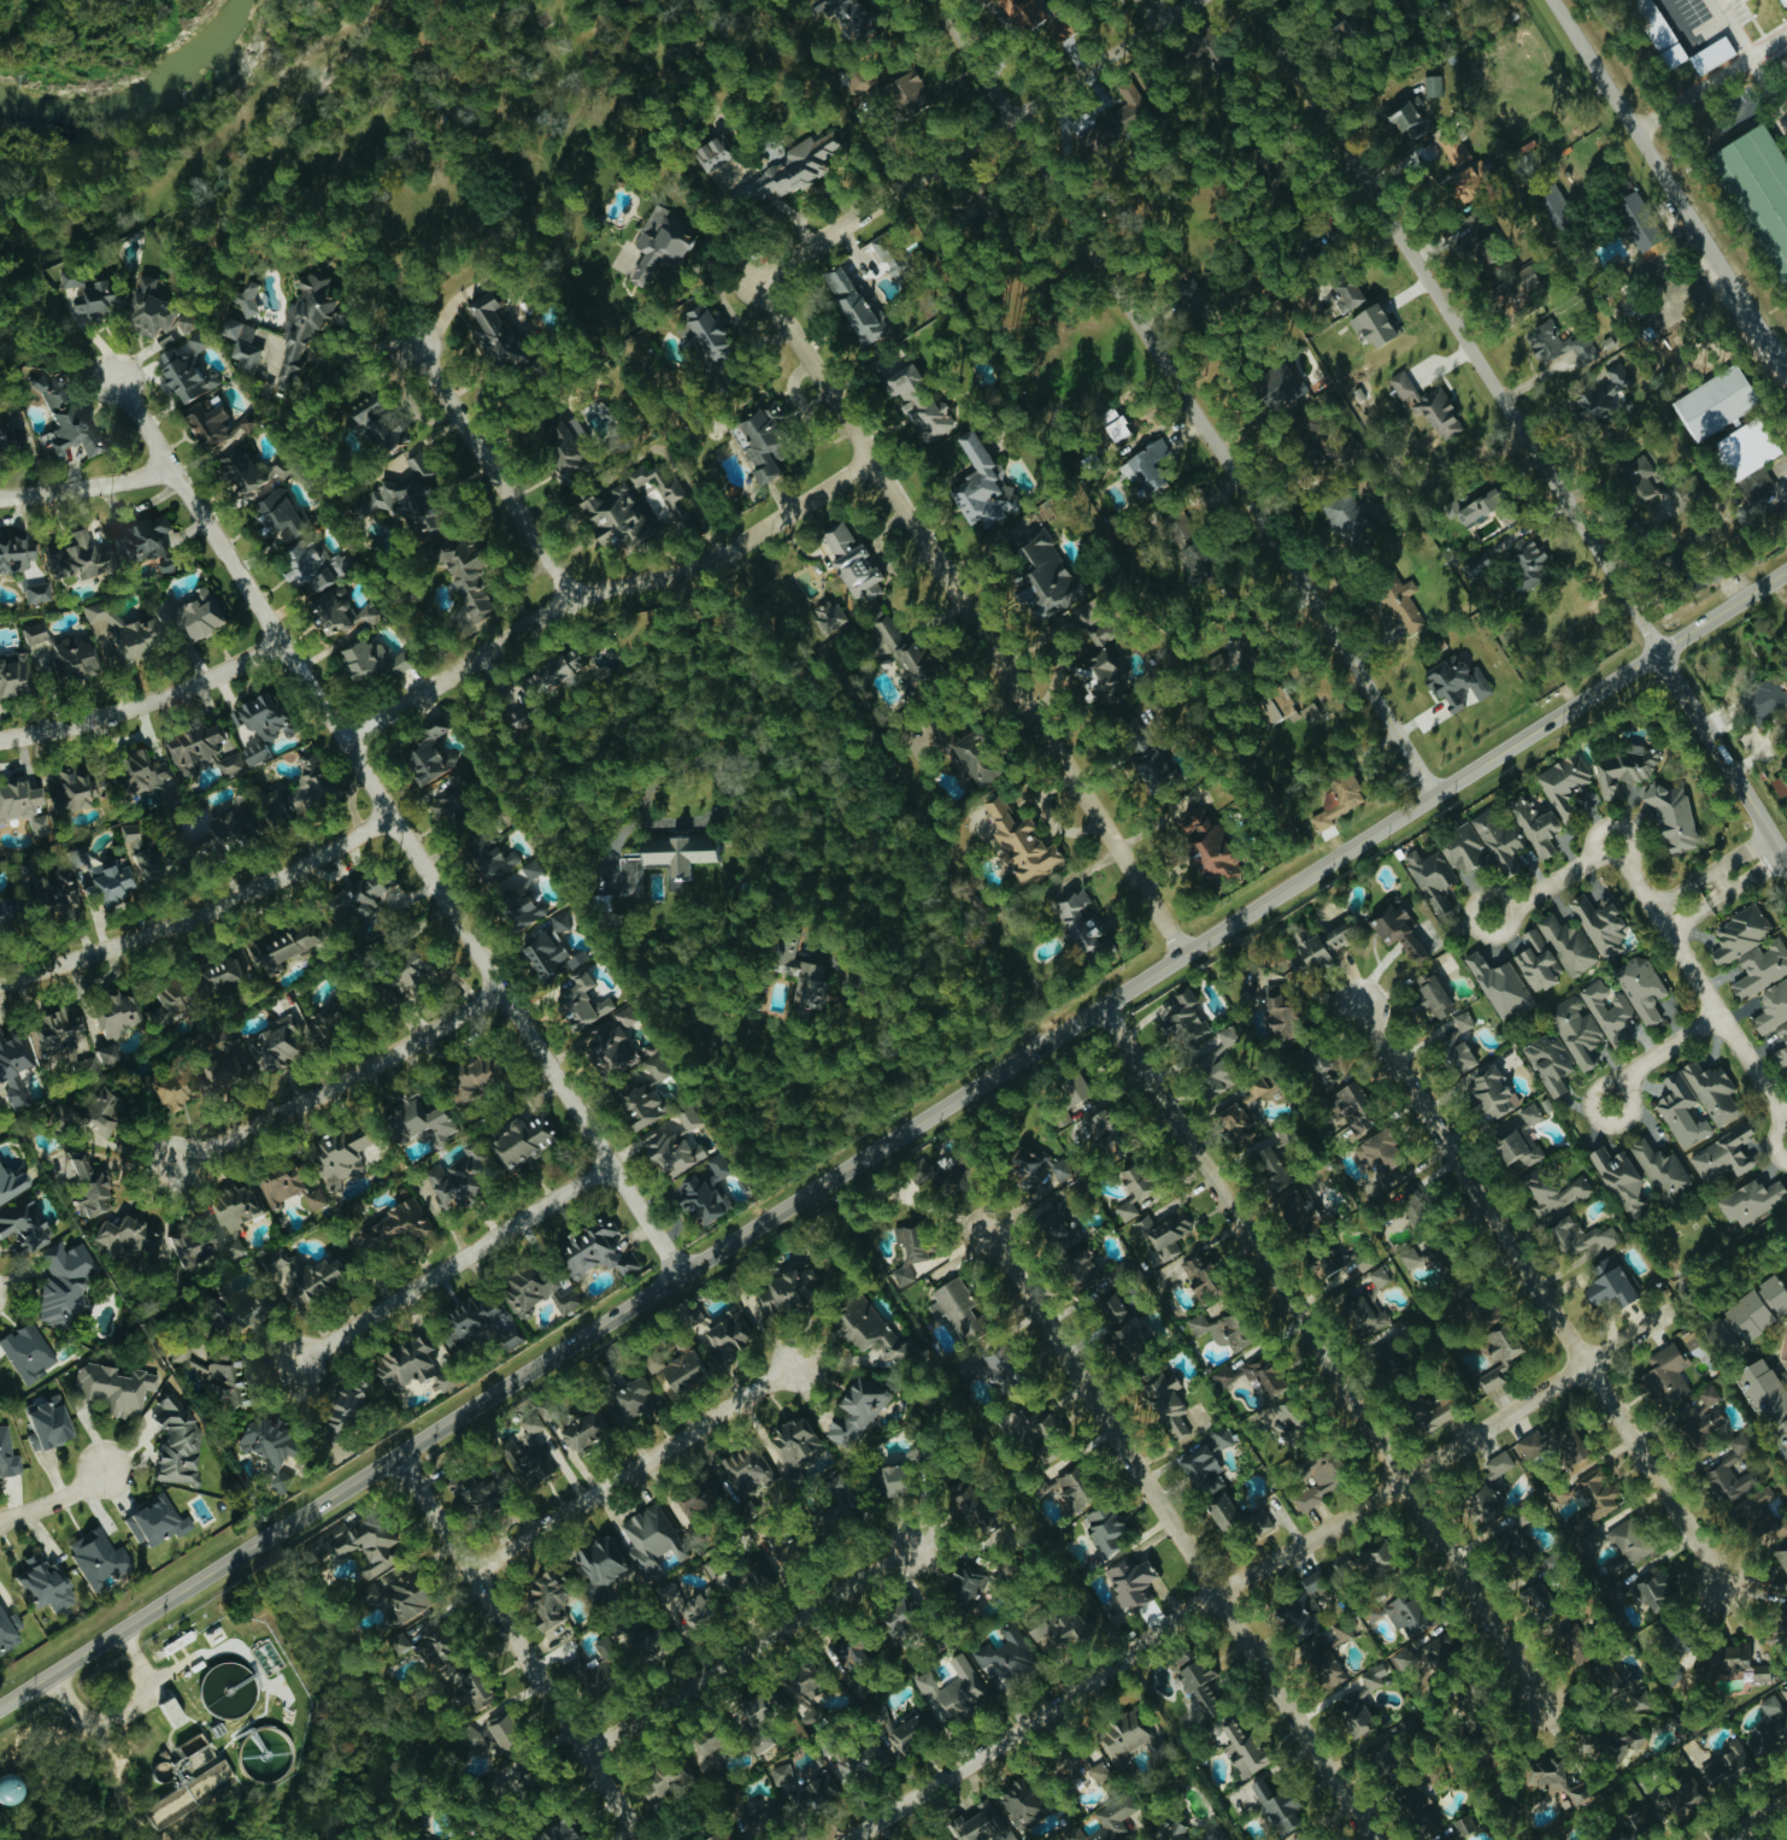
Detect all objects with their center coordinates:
building: (1785, 1)
building: (1021, 12)
building: (841, 16)
parking lot: (1693, 29)
road: (1686, 42)
building: (1712, 54)
road: (1750, 59)
building: (863, 81)
road: (1710, 82)
building: (1434, 84)
road: (1779, 88)
building: (907, 93)
parking lot: (1758, 93)
river: (135, 94)
building: (1129, 95)
road: (1752, 106)
building: (1407, 119)
building: (1095, 136)
road: (983, 139)
building: (1456, 149)
building: (712, 153)
building: (790, 167)
building: (1466, 180)
road: (1669, 187)
building: (1757, 190)
building: (1557, 205)
building: (1638, 219)
building: (659, 245)
building: (71, 276)
building: (1522, 289)
building: (1346, 292)
building: (99, 299)
building: (246, 299)
building: (851, 302)
building: (157, 308)
building: (302, 323)
building: (1374, 324)
road: (1459, 324)
building: (489, 330)
building: (707, 333)
building: (241, 341)
building: (1559, 342)
building: (184, 372)
building: (900, 380)
building: (1277, 386)
building: (1600, 393)
road: (1189, 396)
building: (1715, 402)
building: (1428, 404)
building: (59, 416)
building: (928, 417)
building: (372, 424)
building: (207, 425)
building: (12, 436)
building: (760, 440)
building: (1751, 446)
building: (564, 452)
road: (490, 466)
building: (239, 469)
building: (1146, 470)
building: (1639, 477)
road: (1785, 480)
building: (980, 483)
building: (1756, 483)
building: (665, 486)
road: (84, 487)
building: (400, 500)
building: (1472, 506)
building: (274, 509)
building: (611, 516)
building: (1348, 516)
building: (139, 536)
building: (13, 551)
building: (77, 554)
building: (853, 562)
building: (1194, 562)
building: (1526, 562)
building: (311, 564)
building: (465, 582)
road: (606, 592)
building: (1401, 602)
building: (342, 611)
building: (190, 612)
building: (829, 615)
road: (974, 616)
building: (119, 630)
building: (34, 633)
building: (900, 645)
building: (67, 659)
building: (1217, 662)
building: (1104, 668)
building: (13, 672)
building: (1456, 680)
building: (1764, 699)
road: (145, 706)
building: (1275, 706)
building: (1311, 712)
building: (259, 713)
building: (194, 745)
building: (424, 749)
road: (854, 749)
building: (242, 757)
building: (975, 758)
road: (1721, 759)
building: (1151, 763)
building: (1624, 766)
building: (134, 771)
building: (1564, 781)
building: (69, 790)
building: (448, 796)
building: (1336, 796)
building: (17, 798)
building: (1536, 824)
road: (396, 825)
road: (1613, 827)
building: (1203, 837)
building: (1499, 841)
building: (1022, 842)
building: (1462, 846)
building: (489, 853)
building: (76, 856)
building: (666, 857)
building: (142, 862)
road: (1709, 872)
road: (1565, 874)
building: (1433, 878)
road: (1723, 880)
building: (78, 886)
building: (361, 895)
road: (1723, 895)
building: (518, 898)
road: (1510, 905)
road: (201, 915)
building: (1081, 918)
building: (1600, 924)
building: (1398, 928)
building: (1740, 931)
building: (282, 941)
building: (1569, 943)
building: (1321, 945)
building: (546, 946)
building: (1536, 959)
building: (1760, 966)
building: (407, 970)
building: (221, 972)
building: (804, 972)
building: (1500, 983)
building: (1642, 987)
road: (1703, 993)
building: (1433, 995)
building: (582, 1001)
building: (165, 1005)
building: (1773, 1006)
building: (1610, 1011)
building: (625, 1015)
building: (329, 1017)
building: (1186, 1017)
road: (899, 1019)
building: (1463, 1019)
building: (51, 1028)
building: (105, 1030)
building: (1579, 1030)
building: (1783, 1035)
building: (277, 1040)
building: (612, 1045)
road: (1665, 1047)
building: (12, 1052)
building: (1456, 1052)
building: (219, 1057)
building: (1212, 1059)
building: (1550, 1062)
building: (658, 1065)
building: (1319, 1070)
building: (468, 1075)
road: (334, 1083)
road: (1617, 1084)
building: (165, 1089)
building: (1712, 1089)
building: (1491, 1091)
building: (1069, 1097)
building: (18, 1100)
building: (637, 1101)
building: (1353, 1106)
building: (90, 1109)
building: (1681, 1109)
building: (1244, 1110)
building: (689, 1116)
building: (416, 1121)
building: (1105, 1133)
building: (1518, 1136)
road: (892, 1137)
building: (517, 1140)
road: (1770, 1141)
building: (670, 1151)
building: (339, 1154)
building: (1382, 1157)
building: (1270, 1166)
building: (919, 1168)
building: (1663, 1169)
building: (1620, 1178)
building: (80, 1180)
building: (10, 1182)
building: (281, 1182)
building: (451, 1183)
building: (1131, 1188)
building: (706, 1189)
building: (1554, 1192)
building: (316, 1198)
building: (1751, 1199)
building: (1300, 1207)
building: (233, 1212)
building: (396, 1221)
building: (1057, 1223)
building: (20, 1224)
building: (1165, 1233)
building: (1579, 1235)
building: (125, 1236)
building: (189, 1244)
building: (594, 1250)
building: (910, 1250)
road: (953, 1251)
building: (1410, 1256)
building: (1327, 1258)
building: (275, 1259)
road: (454, 1263)
building: (1080, 1270)
building: (1198, 1276)
building: (316, 1277)
building: (61, 1282)
building: (1607, 1282)
building: (524, 1287)
building: (784, 1289)
road: (1541, 1295)
building: (569, 1300)
building: (1368, 1303)
building: (958, 1305)
building: (247, 1310)
building: (1750, 1312)
building: (1118, 1317)
building: (466, 1319)
building: (1219, 1329)
building: (722, 1331)
building: (872, 1331)
building: (509, 1336)
building: (1785, 1346)
building: (1380, 1347)
building: (25, 1353)
road: (1321, 1354)
building: (1500, 1354)
building: (401, 1362)
building: (989, 1365)
building: (676, 1369)
building: (1670, 1369)
building: (208, 1372)
building: (1251, 1374)
building: (114, 1388)
building: (1765, 1392)
building: (633, 1397)
building: (1168, 1400)
building: (346, 1404)
building: (857, 1409)
building: (1429, 1412)
building: (1704, 1417)
building: (578, 1424)
building: (796, 1441)
building: (174, 1444)
building: (264, 1446)
building: (527, 1451)
building: (7, 1454)
building: (1205, 1457)
road: (635, 1466)
building: (742, 1469)
building: (1732, 1472)
building: (892, 1476)
building: (1316, 1481)
building: (470, 1487)
building: (1488, 1488)
building: (1068, 1489)
building: (694, 1503)
road: (57, 1504)
building: (972, 1506)
building: (1758, 1509)
building: (1221, 1510)
building: (1592, 1512)
building: (154, 1521)
building: (1104, 1527)
road: (1180, 1536)
building: (651, 1539)
building: (1630, 1540)
building: (1512, 1545)
building: (354, 1546)
building: (783, 1551)
building: (1782, 1556)
building: (96, 1557)
building: (1376, 1558)
building: (599, 1559)
road: (1258, 1569)
building: (756, 1574)
building: (1315, 1580)
building: (964, 1582)
building: (1130, 1582)
building: (43, 1583)
building: (1653, 1588)
building: (369, 1593)
building: (405, 1598)
building: (546, 1599)
building: (1538, 1600)
building: (686, 1607)
building: (1400, 1612)
building: (897, 1617)
building: (1297, 1618)
building: (1780, 1622)
building: (1054, 1627)
building: (8, 1630)
building: (637, 1640)
building: (421, 1646)
road: (519, 1646)
road: (747, 1647)
building: (847, 1652)
building: (1006, 1653)
road: (154, 1675)
building: (1372, 1676)
building: (1197, 1680)
building: (953, 1688)
building: (469, 1692)
building: (778, 1704)
building: (881, 1711)
building: (1353, 1713)
road: (102, 1718)
building: (1769, 1727)
building: (910, 1732)
building: (486, 1733)
building: (1122, 1735)
building: (704, 1742)
building: (1236, 1745)
building: (1380, 1757)
building: (860, 1763)
building: (1727, 1764)
building: (1077, 1766)
building: (1548, 1776)
building: (664, 1779)
building: (803, 1786)
building: (1685, 1793)
building: (1275, 1803)
building: (1019, 1804)
building: (1421, 1807)
building: (759, 1818)
road: (1758, 1821)
building: (976, 1822)
building: (1106, 1822)
building: (1636, 1824)
building: (1169, 1829)
building: (1453, 1829)
building: (425, 1838)
building: (712, 1838)
building: (945, 1839)

